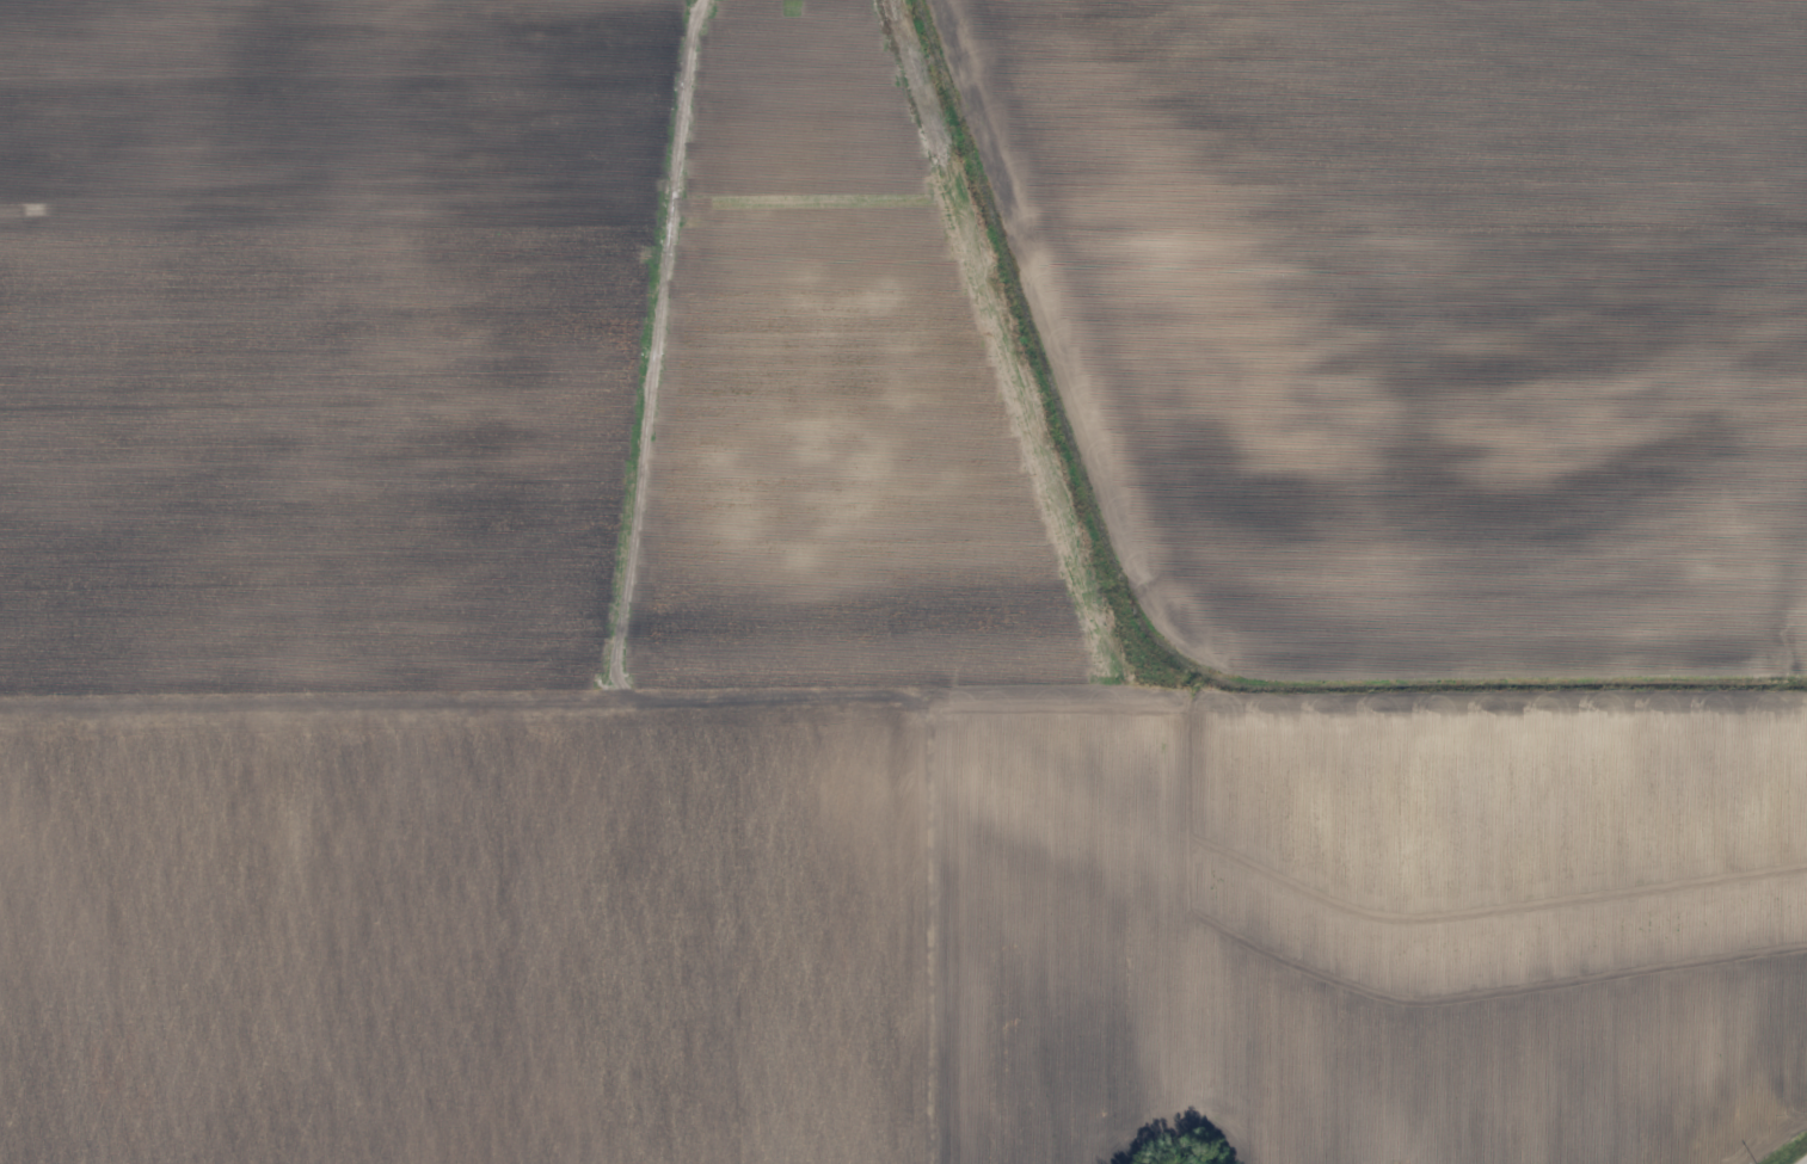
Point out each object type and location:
road: (1802, 1160)

